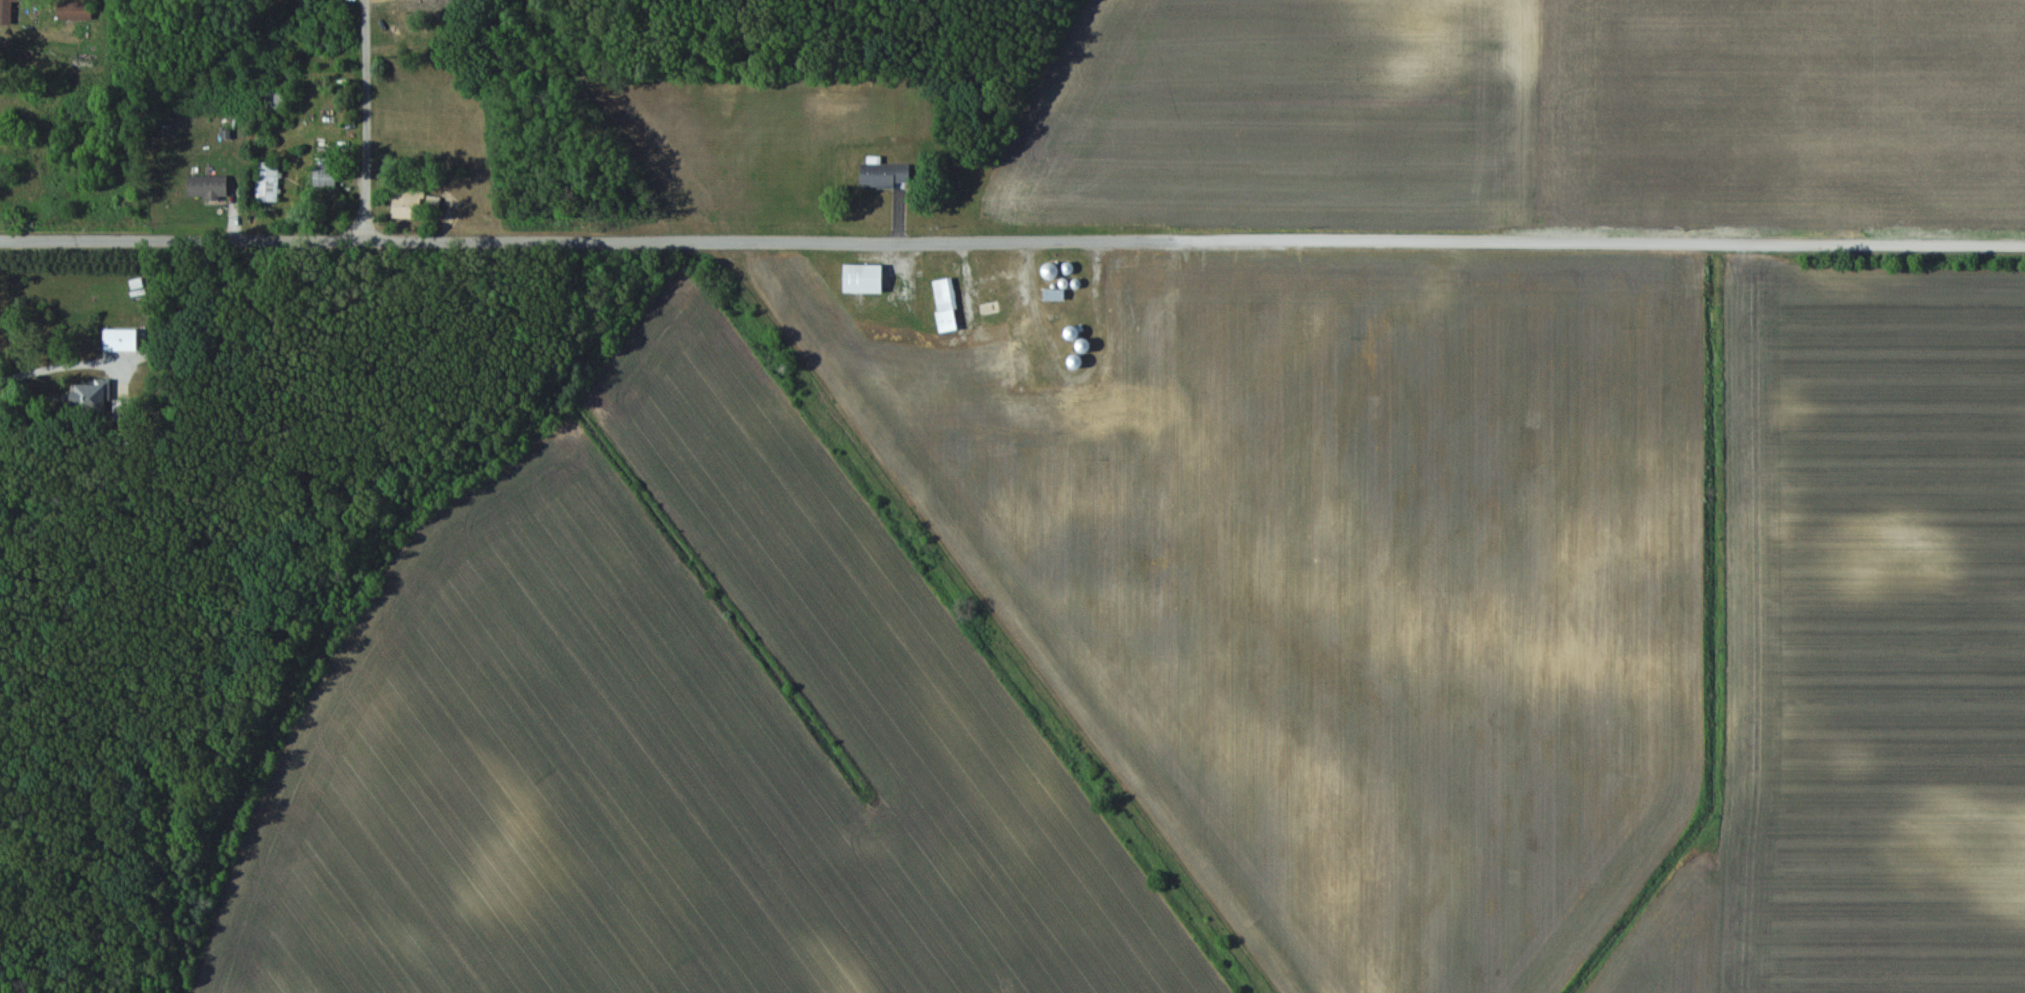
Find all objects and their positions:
building: (13, 1)
building: (426, 3)
building: (75, 10)
road: (369, 119)
building: (324, 175)
building: (887, 175)
building: (266, 181)
building: (208, 187)
building: (406, 203)
road: (1012, 235)
building: (864, 278)
building: (1055, 294)
building: (1001, 300)
building: (946, 305)
building: (1074, 332)
building: (119, 340)
building: (1016, 354)
road: (69, 360)
building: (1077, 360)
building: (83, 394)
building: (1120, 399)

